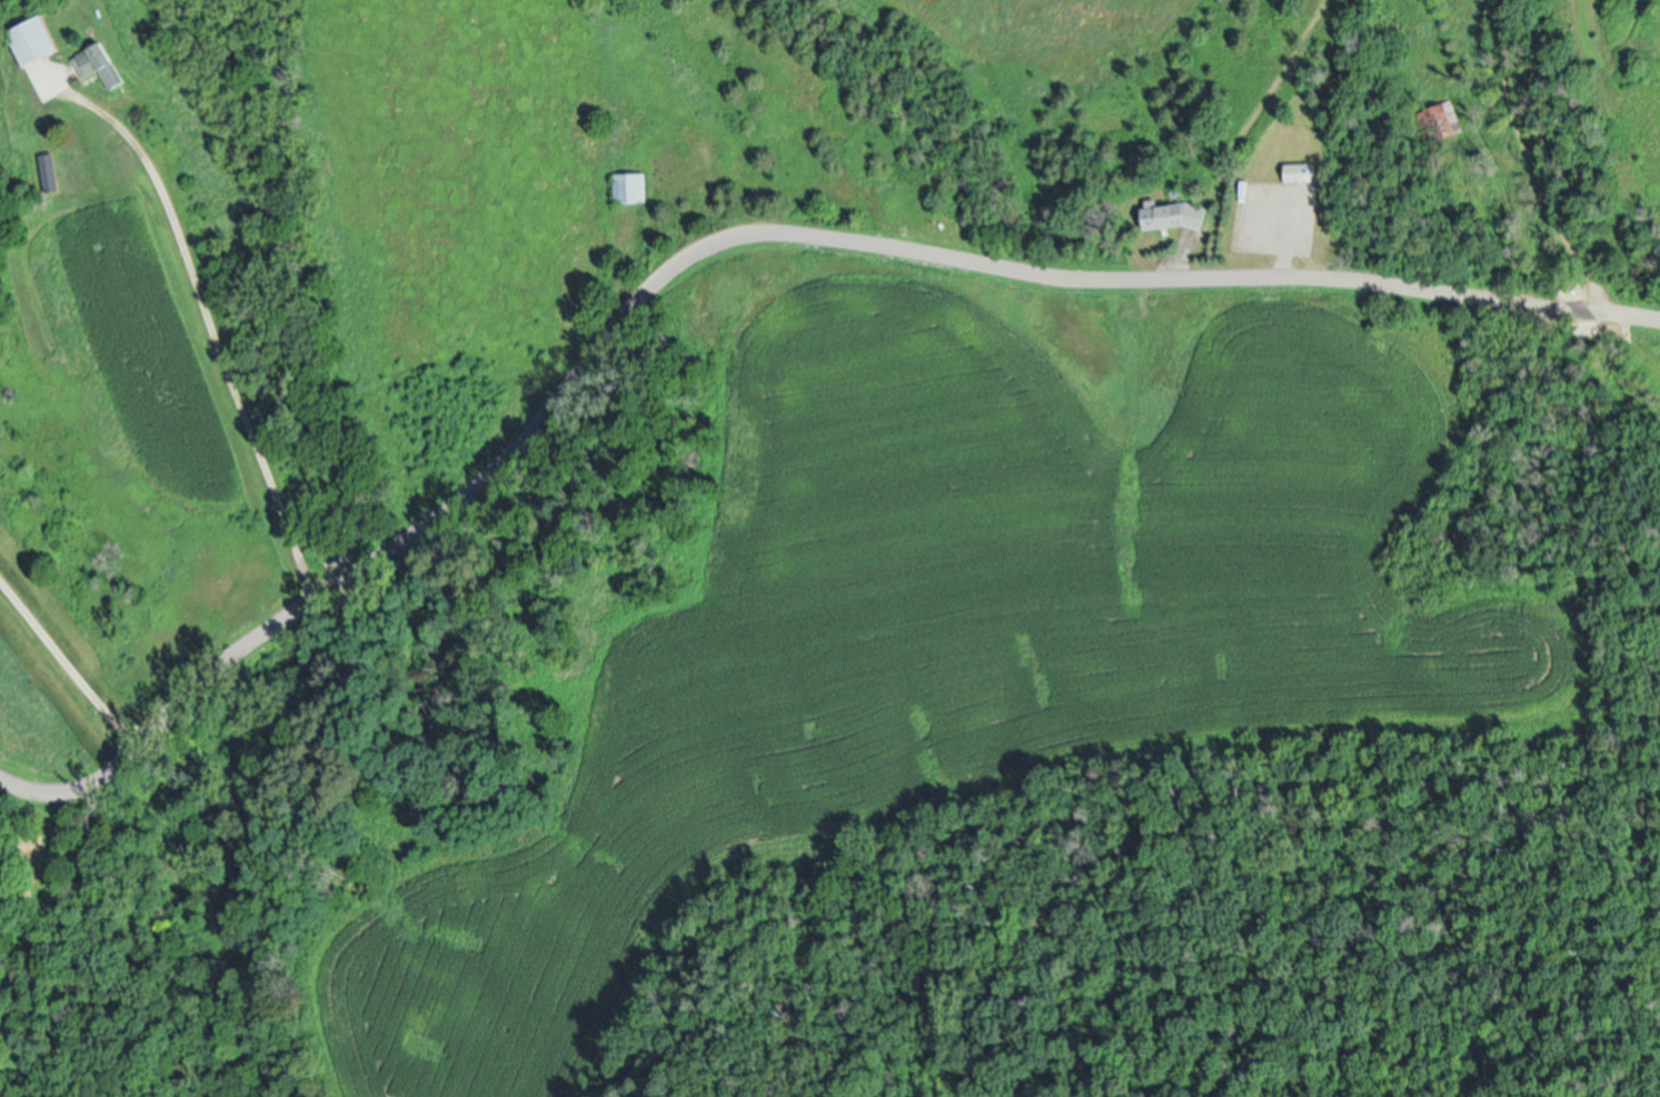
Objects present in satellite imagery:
building: (36, 37)
building: (99, 61)
building: (1445, 118)
building: (1302, 169)
building: (48, 170)
building: (625, 186)
building: (1176, 212)
road: (724, 235)
road: (207, 321)
road: (69, 669)

